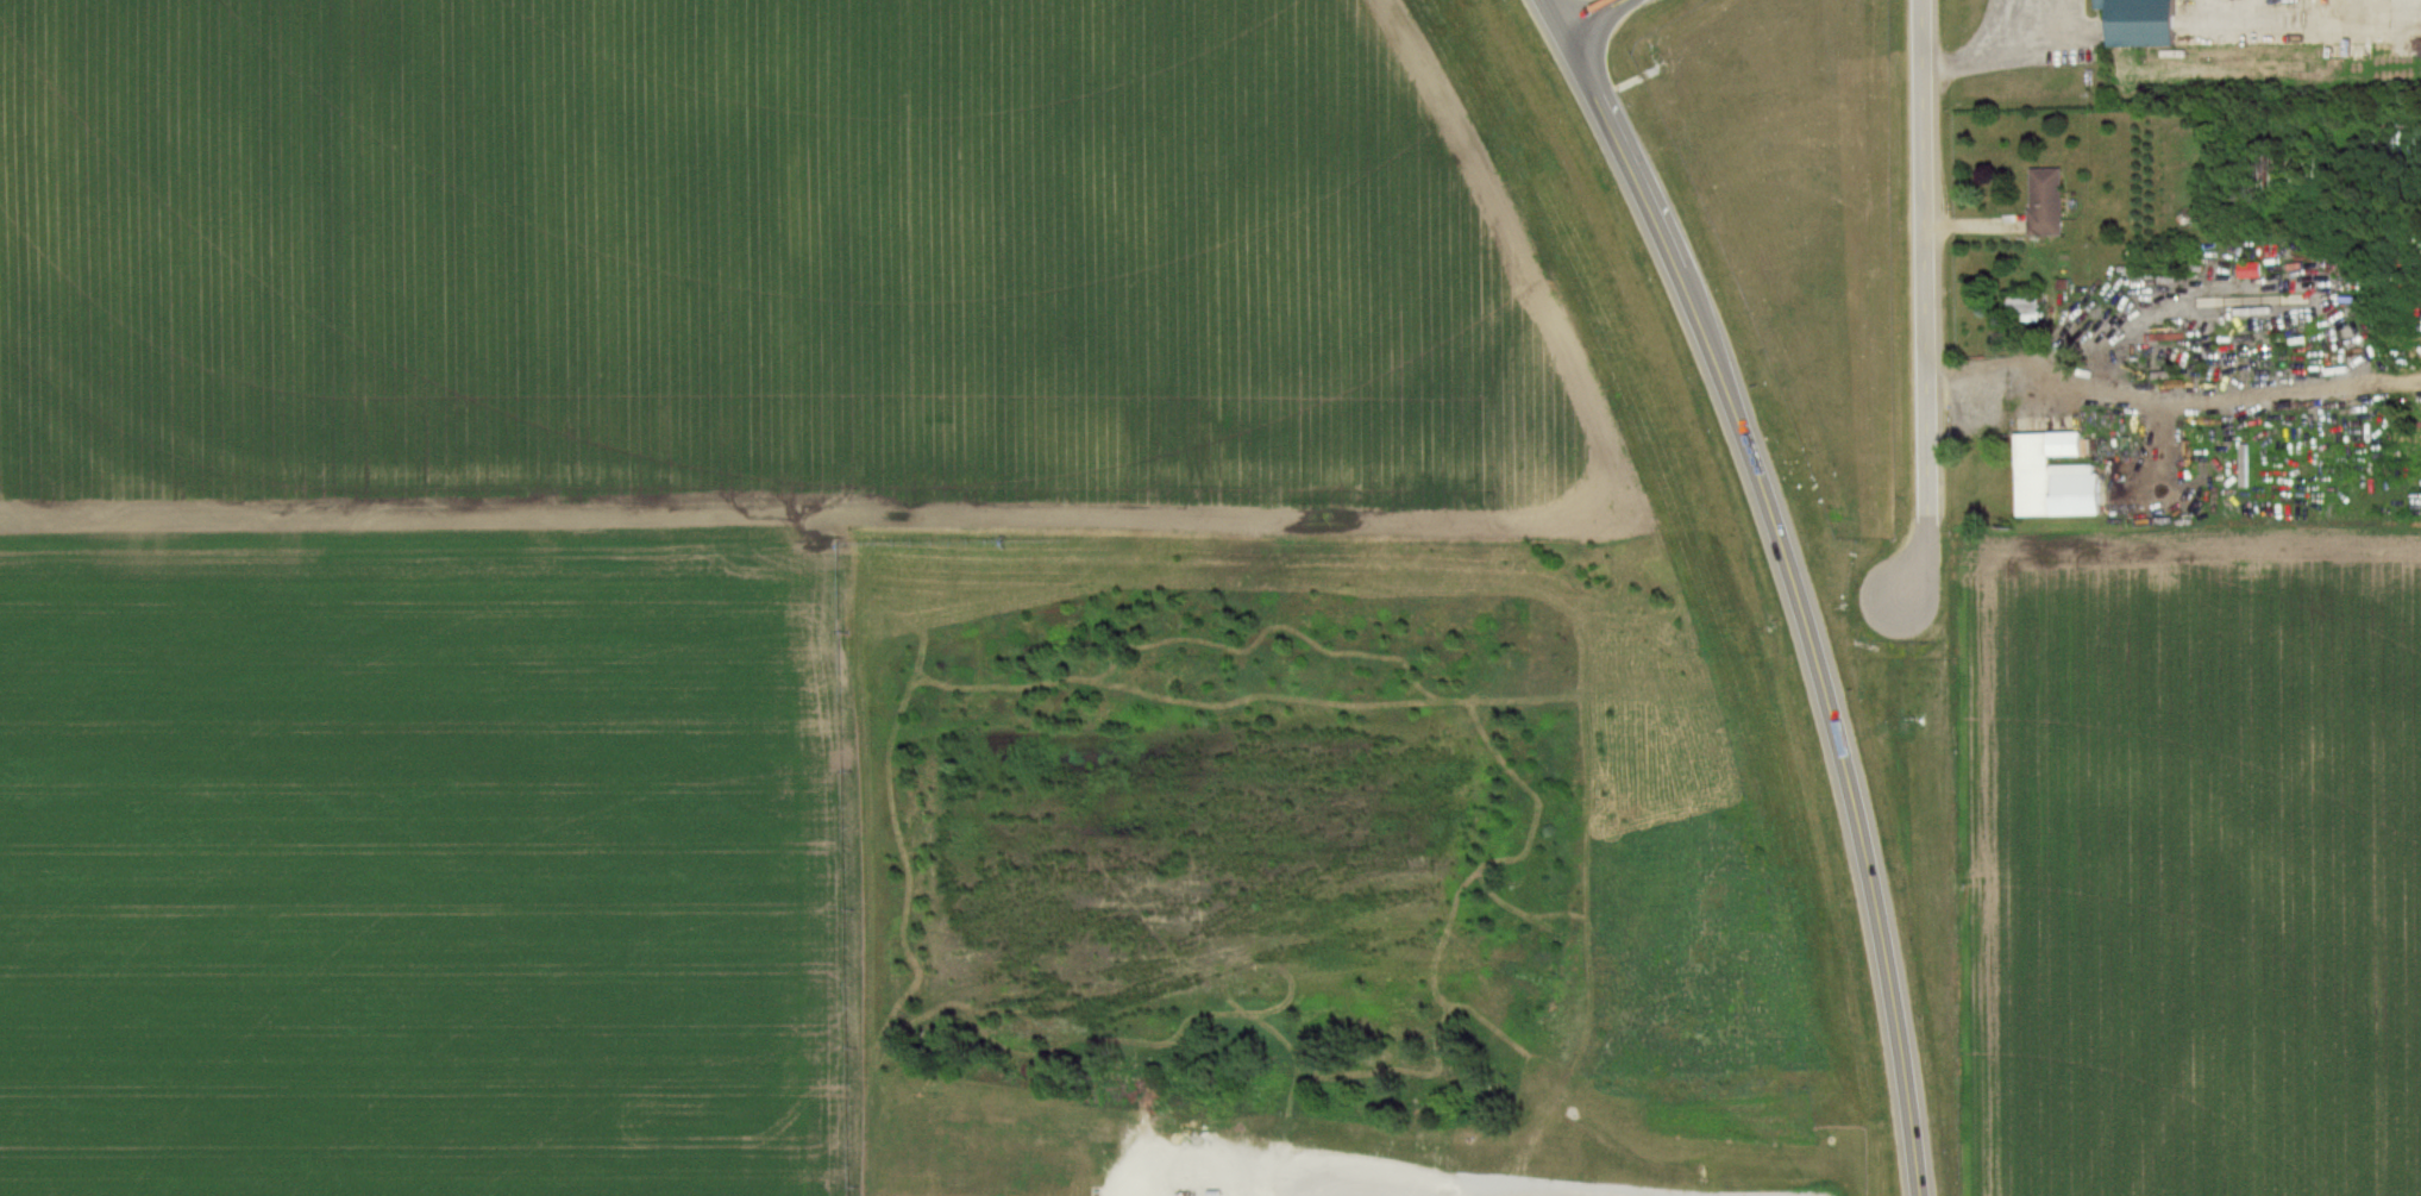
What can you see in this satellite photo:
road: (1553, 14)
road: (1587, 14)
building: (2149, 24)
road: (1988, 51)
building: (2051, 205)
building: (2257, 270)
crop: (1037, 275)
road: (1933, 295)
building: (2028, 309)
road: (2177, 409)
building: (2059, 477)
road: (1794, 594)
crop: (422, 858)
crop: (2202, 868)

